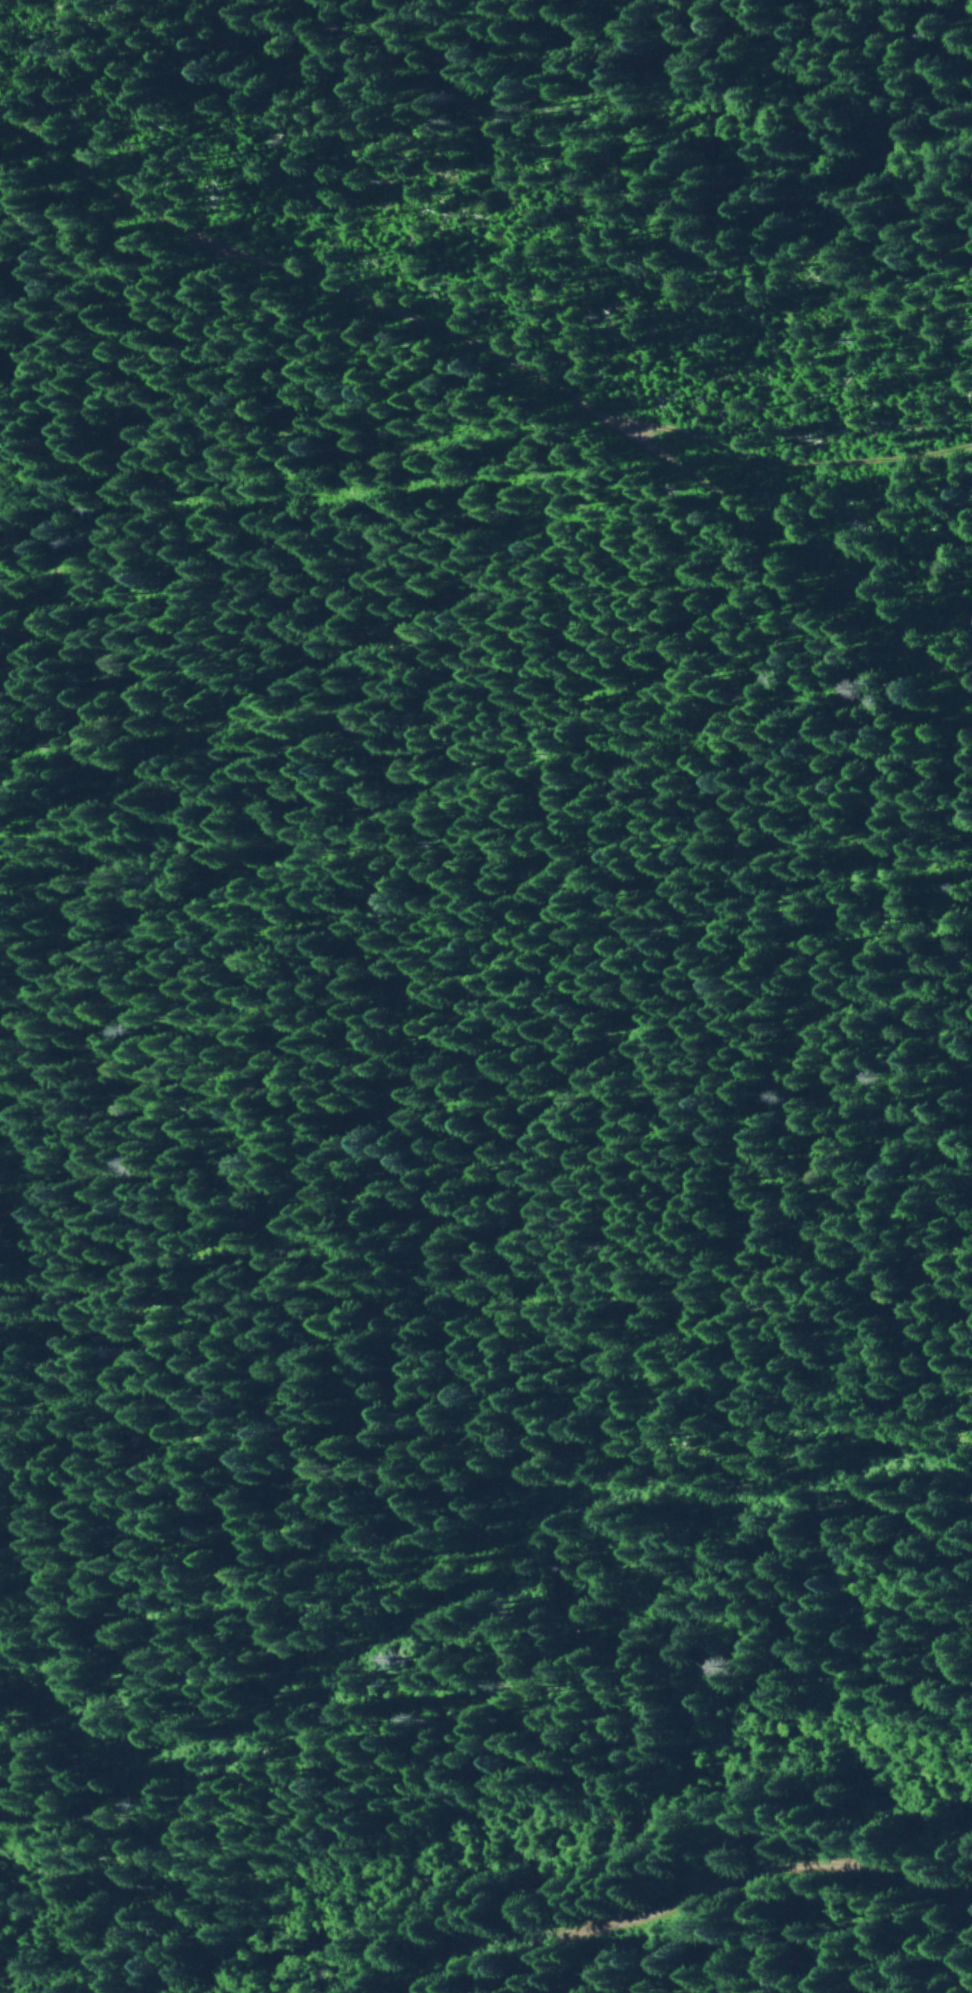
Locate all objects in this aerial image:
road: (307, 282)
road: (657, 447)
river: (599, 1840)
road: (680, 1897)

